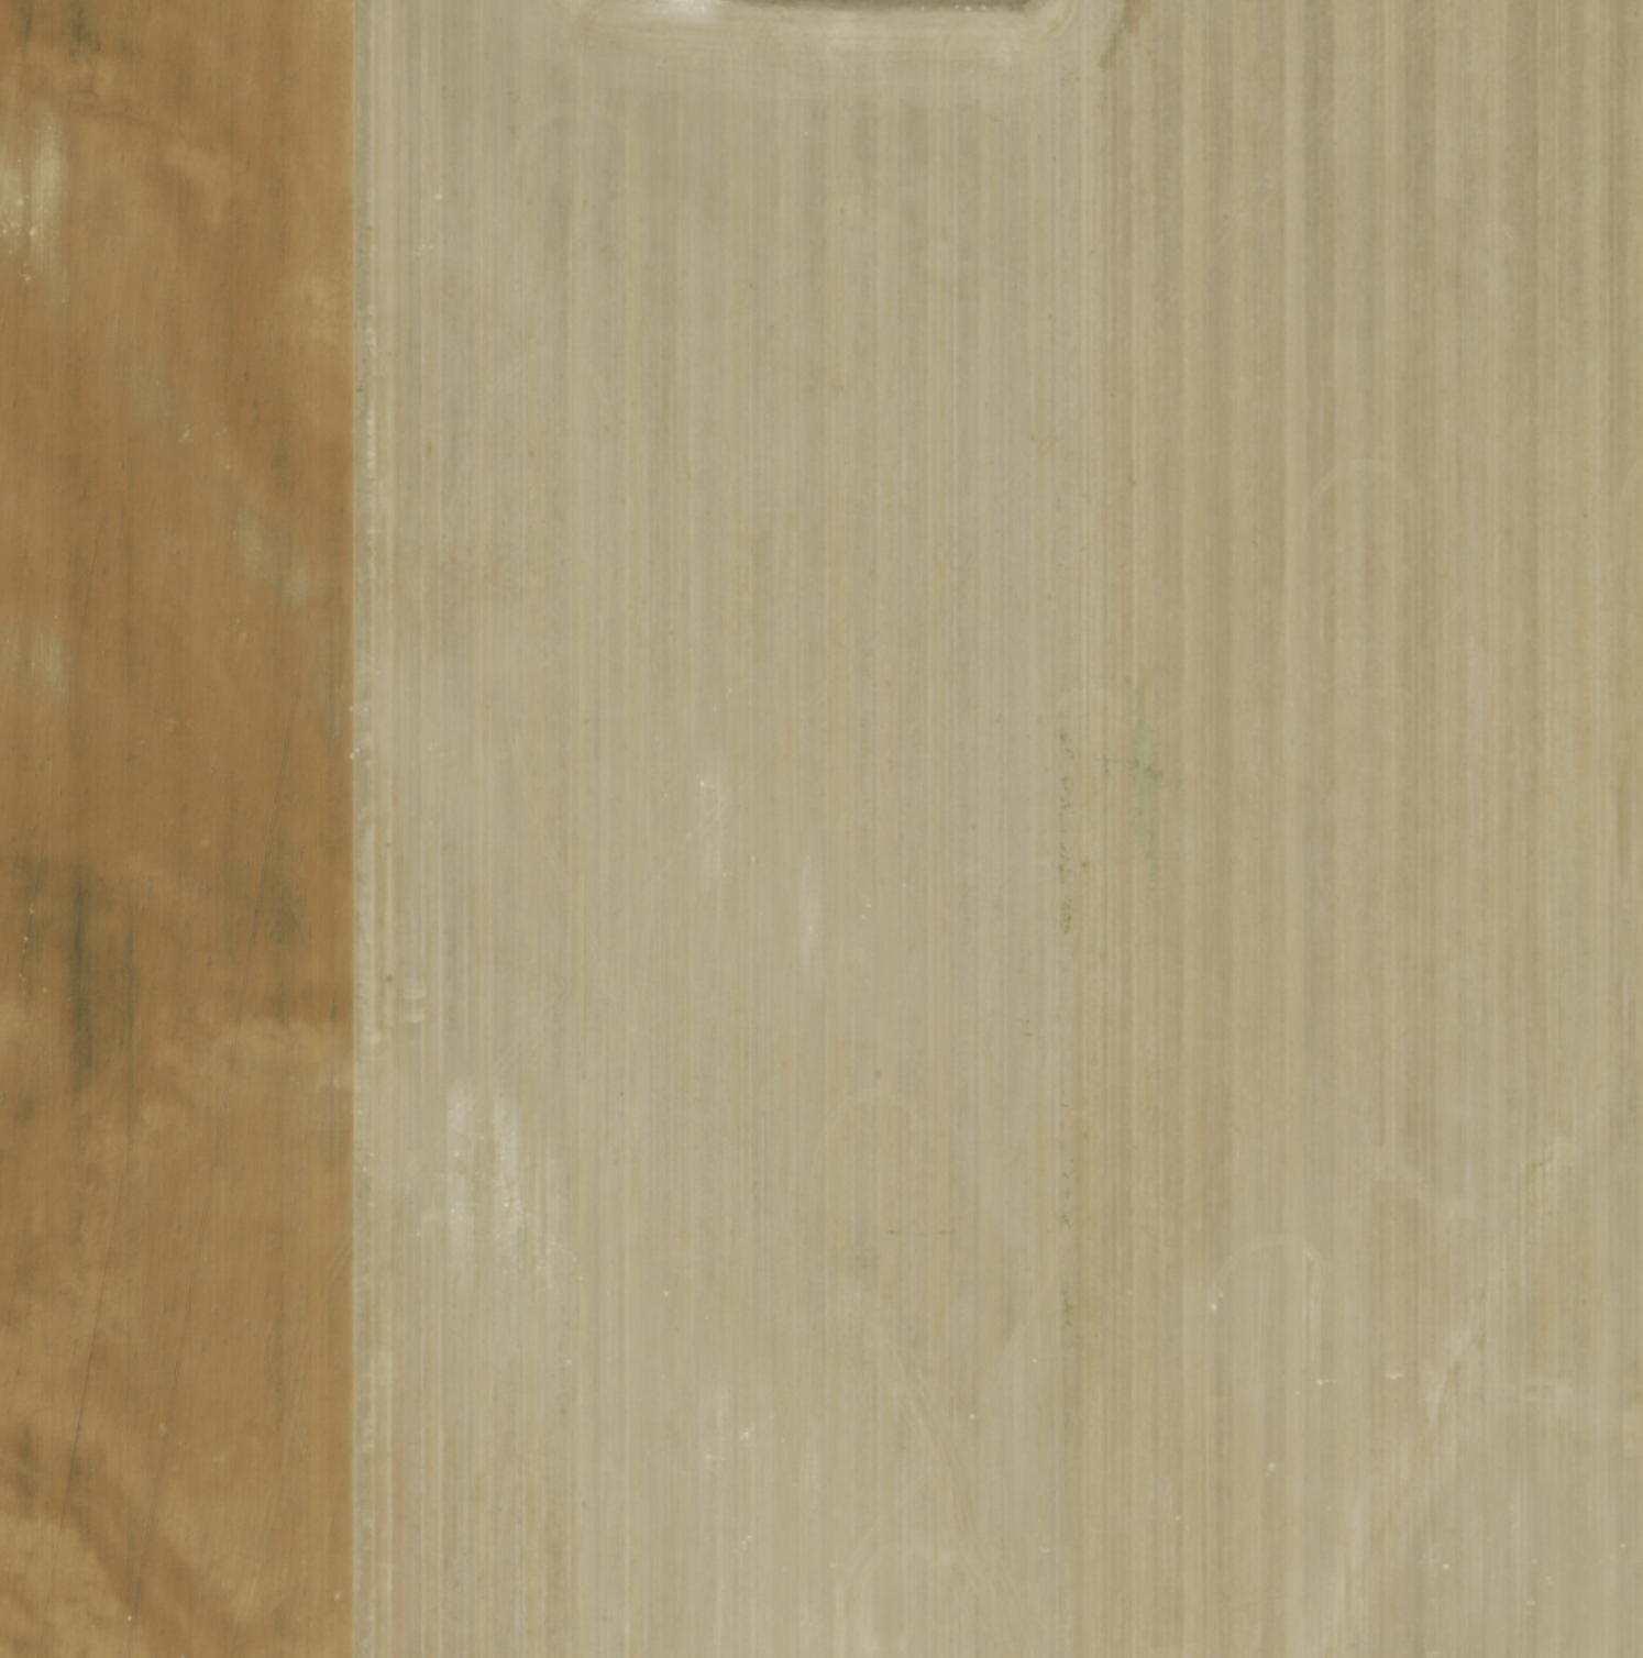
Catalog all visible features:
crop: (821, 829)

